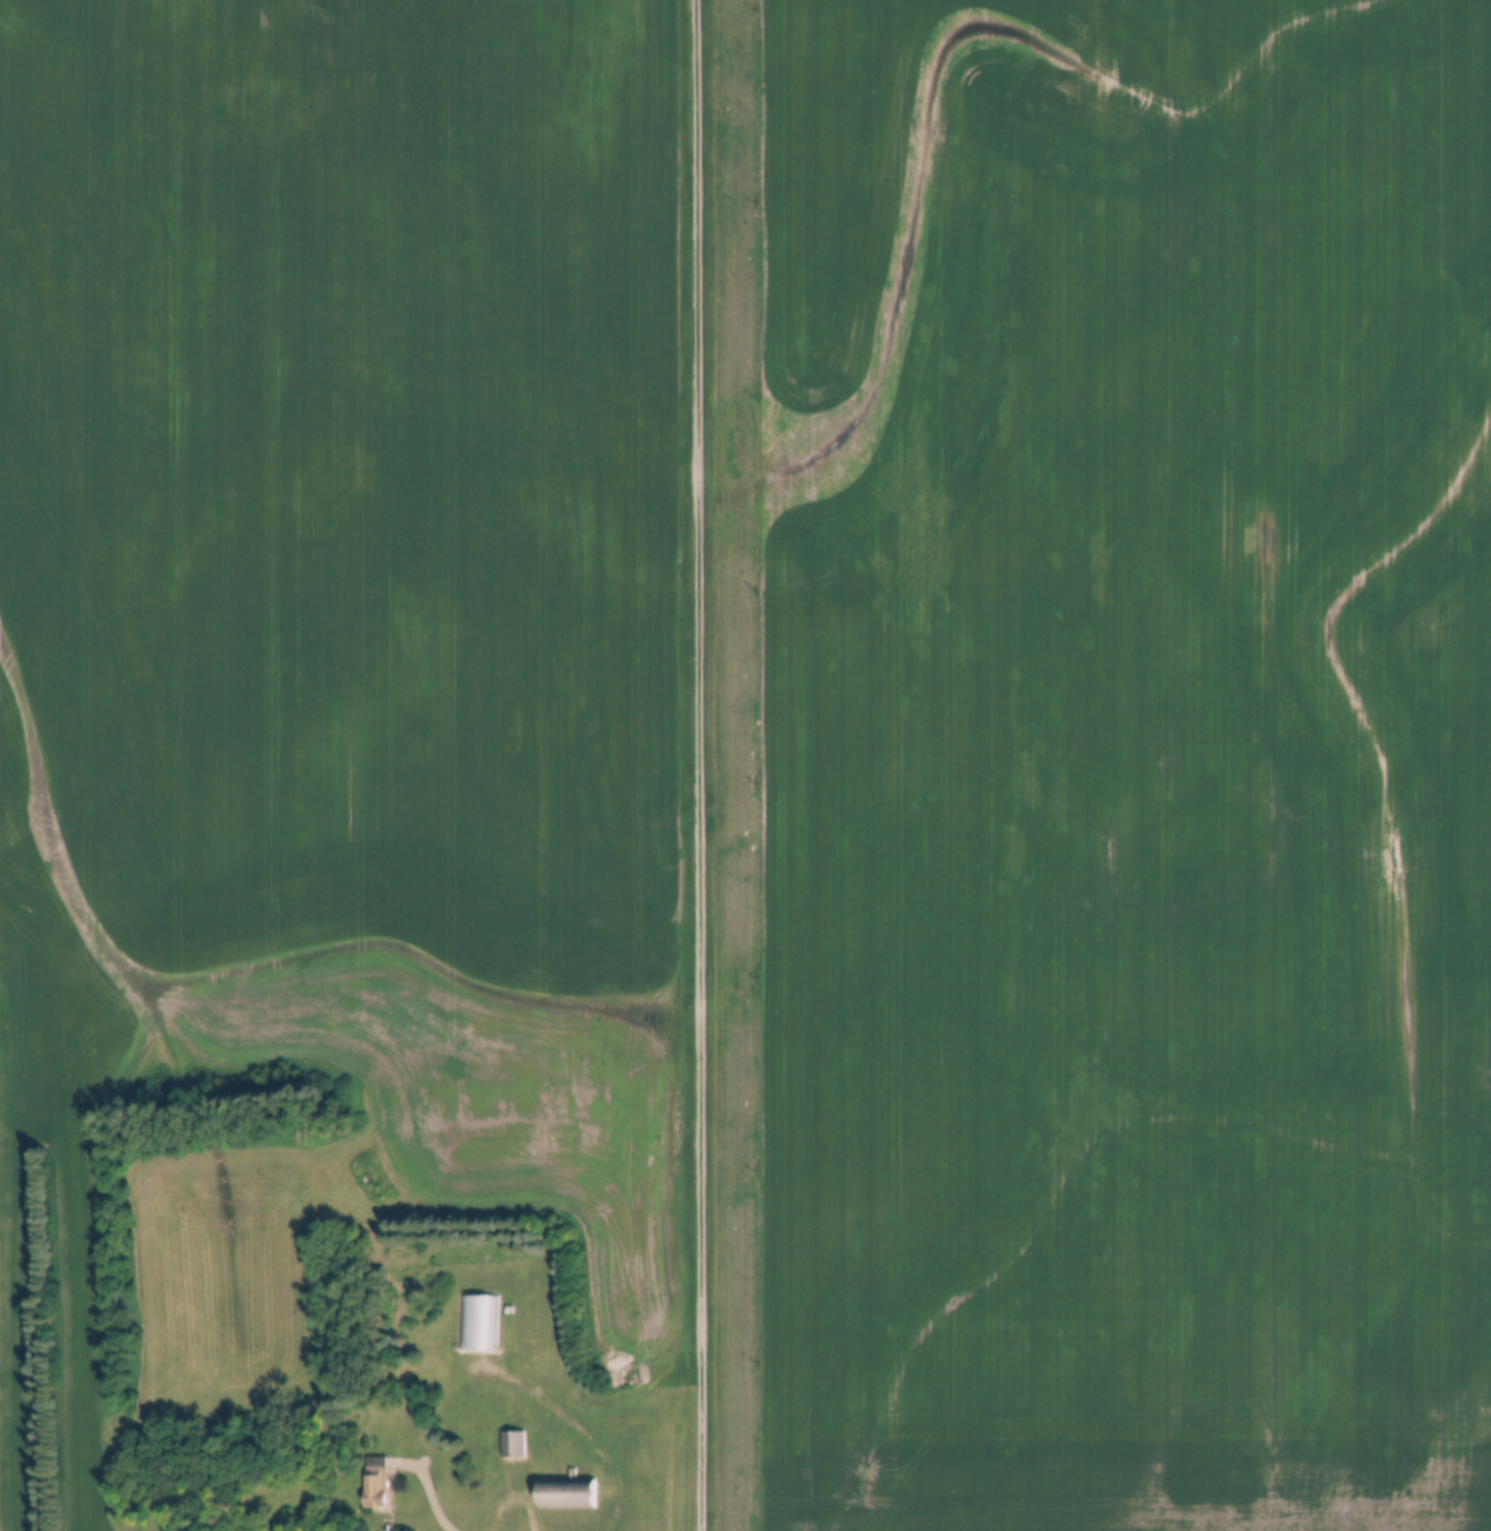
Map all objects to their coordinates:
road: (699, 765)
building: (476, 1323)
road: (573, 1420)
building: (380, 1484)
building: (570, 1491)

